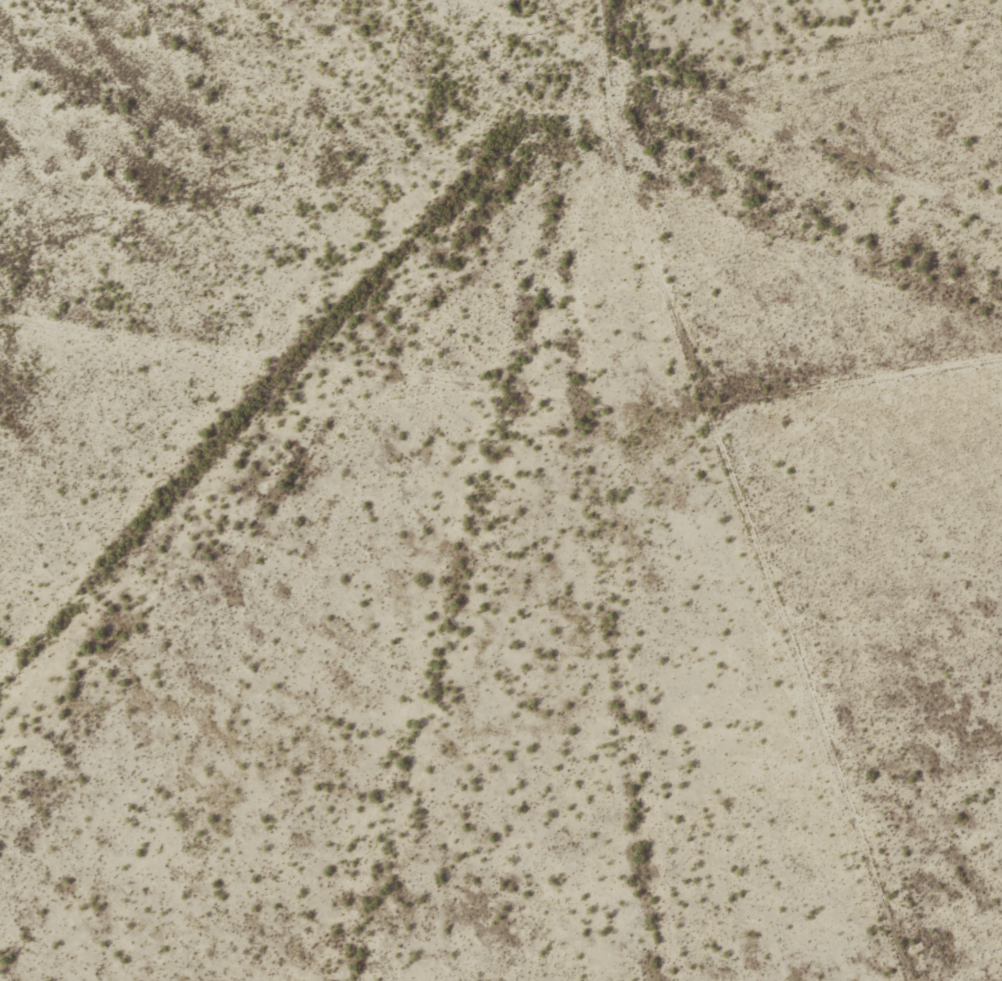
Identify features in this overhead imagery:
power tower: (533, 34)
power tower: (710, 104)
power tower: (886, 174)

